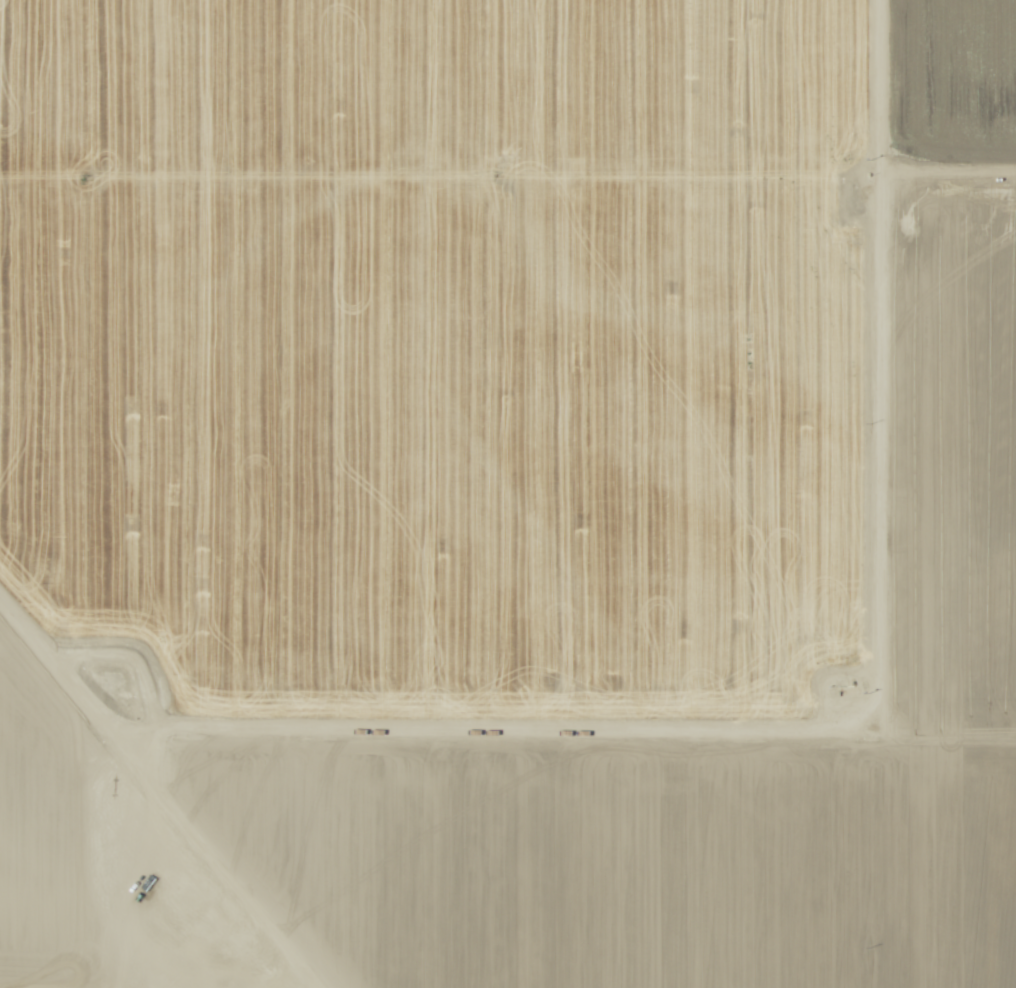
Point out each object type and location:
crop: (508, 494)
road: (847, 494)
road: (402, 722)
road: (200, 856)

